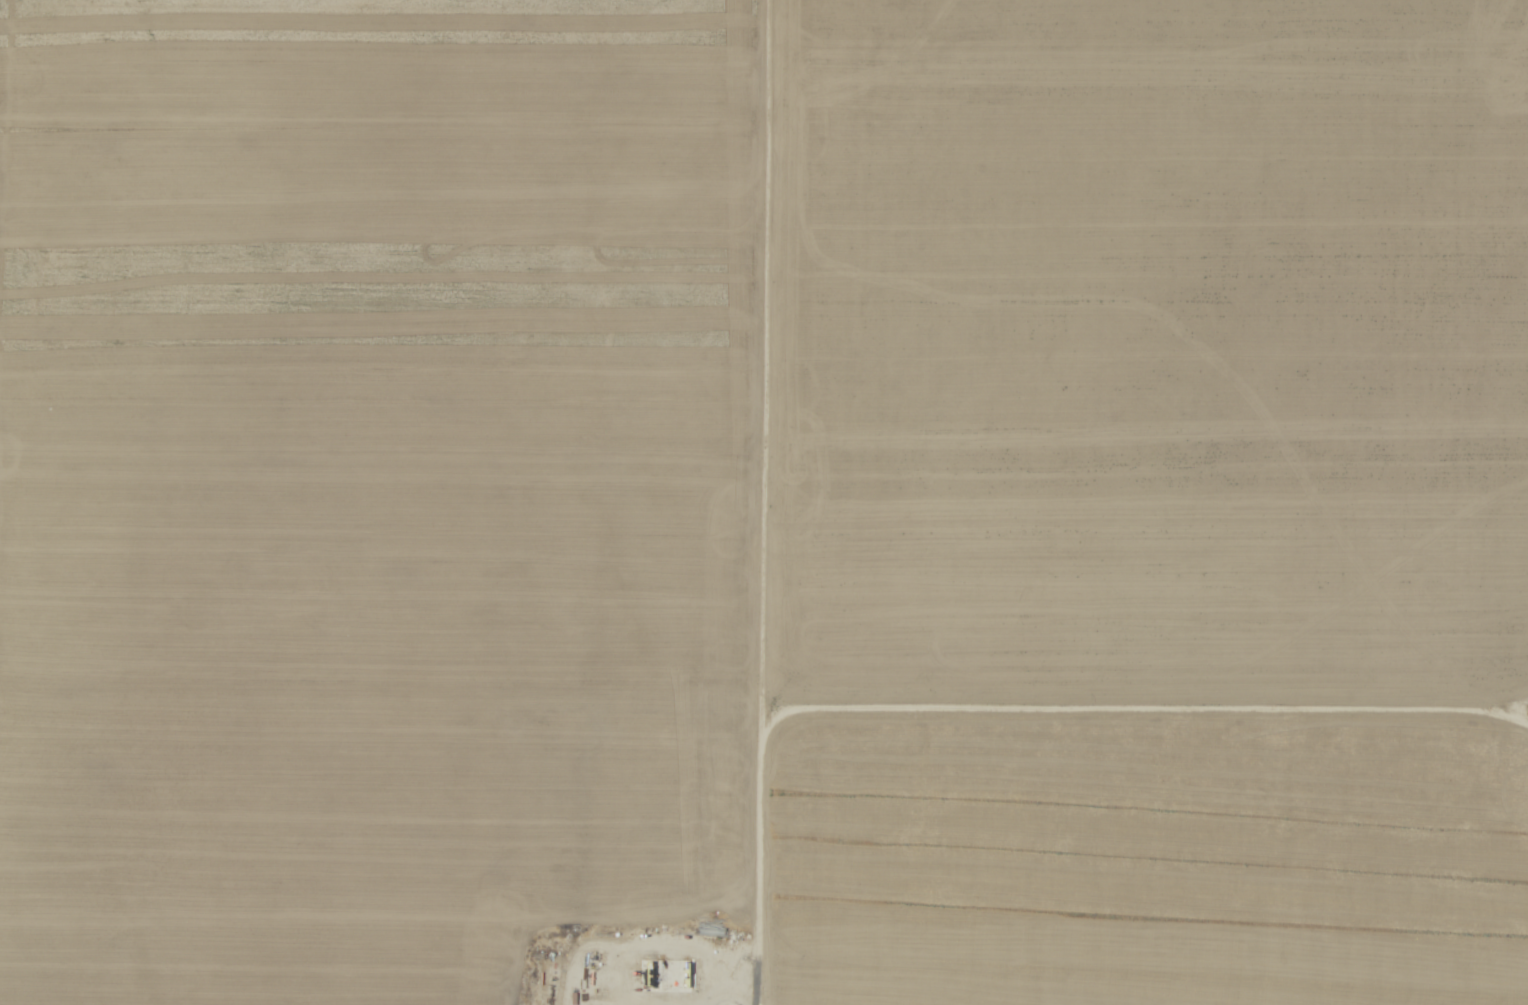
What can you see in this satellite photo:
crop: (764, 502)
road: (1005, 709)

